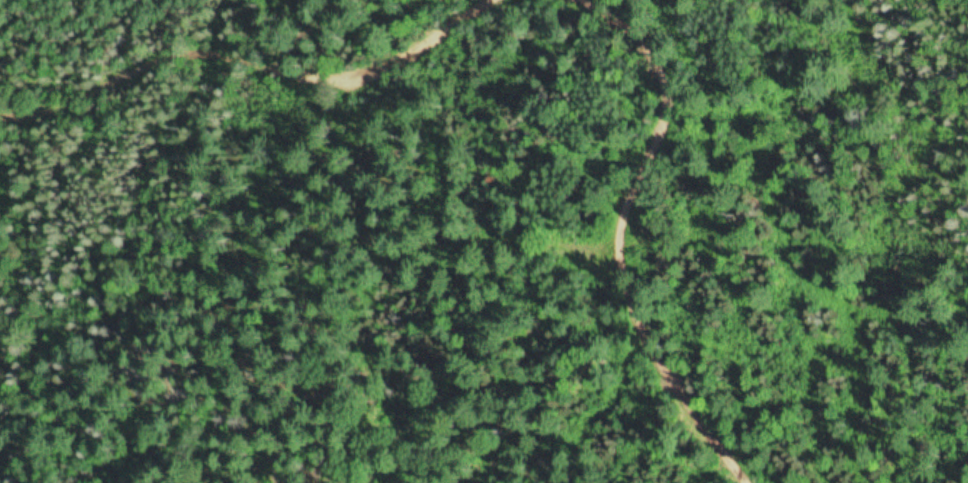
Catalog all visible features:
road: (631, 232)

